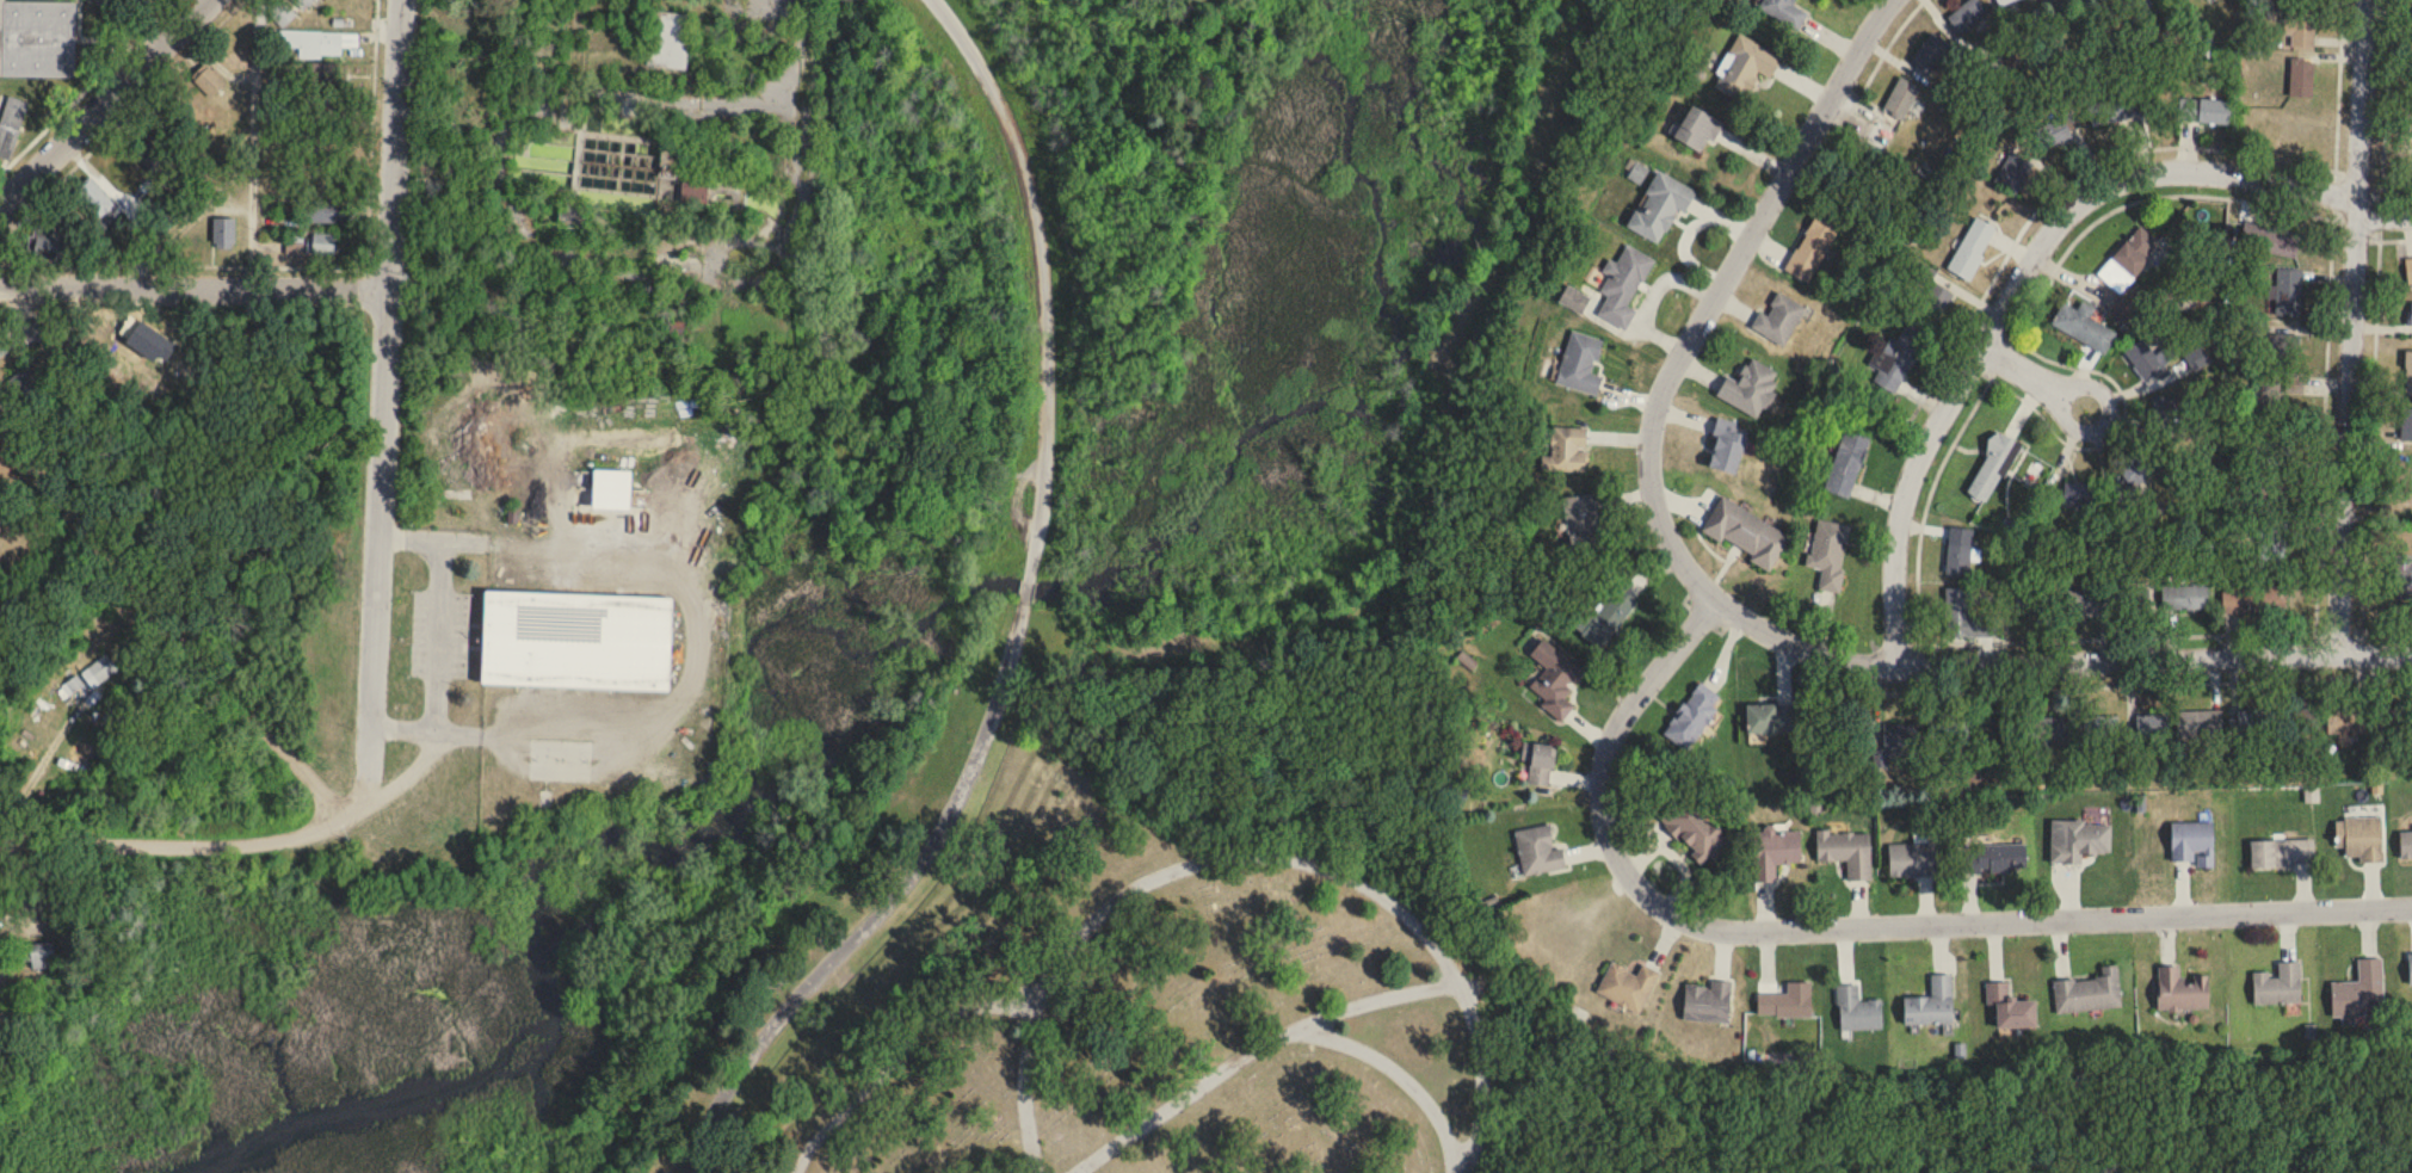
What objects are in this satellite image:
building: (2003, 1)
building: (302, 4)
building: (1783, 11)
building: (282, 14)
building: (1969, 16)
building: (2300, 29)
building: (37, 39)
building: (668, 39)
building: (311, 45)
road: (808, 48)
building: (1929, 53)
road: (1877, 58)
building: (1744, 68)
building: (1999, 70)
building: (2302, 79)
building: (208, 81)
road: (2338, 84)
building: (1901, 98)
road: (109, 106)
building: (2115, 111)
building: (2204, 112)
building: (10, 128)
building: (1697, 130)
building: (1880, 136)
building: (2054, 137)
road: (259, 146)
building: (146, 154)
building: (2013, 173)
building: (631, 177)
road: (2066, 179)
building: (94, 200)
building: (1660, 206)
building: (323, 214)
road: (2380, 215)
building: (69, 224)
building: (223, 234)
building: (45, 243)
road: (530, 243)
building: (2276, 243)
building: (321, 245)
building: (295, 248)
building: (1812, 248)
building: (1972, 248)
building: (2129, 261)
road: (2025, 266)
building: (2408, 272)
road: (1047, 276)
building: (1623, 286)
road: (197, 291)
building: (2288, 294)
building: (2410, 316)
building: (1778, 320)
road: (2350, 326)
building: (2083, 328)
building: (2, 350)
building: (2285, 351)
building: (1899, 359)
building: (2145, 360)
building: (1580, 364)
road: (2032, 375)
building: (2408, 375)
building: (24, 382)
building: (1750, 389)
road: (389, 412)
river: (1271, 418)
building: (2406, 426)
building: (2280, 443)
building: (1726, 447)
building: (1567, 449)
building: (1846, 459)
building: (661, 465)
building: (1991, 469)
building: (2139, 470)
road: (1931, 482)
building: (2276, 488)
building: (2080, 494)
road: (2319, 495)
building: (1583, 526)
building: (1745, 533)
building: (2271, 545)
building: (1830, 552)
building: (1960, 552)
building: (2402, 578)
road: (1026, 588)
building: (2185, 597)
building: (2133, 600)
building: (2253, 600)
building: (2087, 601)
building: (2034, 603)
road: (1728, 605)
building: (1964, 616)
building: (1605, 618)
road: (178, 623)
road: (2387, 628)
road: (439, 636)
building: (575, 640)
road: (697, 642)
building: (103, 668)
building: (1554, 679)
road: (2167, 681)
building: (2394, 715)
building: (1692, 716)
building: (2339, 716)
building: (2297, 717)
building: (1771, 718)
building: (2251, 720)
building: (2196, 722)
building: (2149, 723)
building: (2098, 724)
building: (2044, 727)
building: (1949, 729)
building: (1899, 731)
building: (1538, 763)
road: (413, 772)
building: (1695, 832)
building: (2358, 835)
building: (2190, 839)
building: (2078, 840)
building: (2404, 840)
building: (2278, 850)
building: (1538, 851)
road: (181, 852)
building: (1846, 852)
building: (1773, 853)
building: (1994, 858)
building: (1912, 860)
river: (538, 894)
road: (889, 907)
road: (1851, 926)
building: (38, 956)
building: (2408, 965)
road: (1053, 971)
building: (2278, 986)
building: (1628, 987)
building: (2180, 992)
building: (2357, 992)
building: (2089, 993)
road: (1388, 996)
building: (1708, 1002)
building: (1787, 1004)
building: (1931, 1005)
building: (2011, 1007)
building: (1857, 1011)
park: (1197, 1014)
road: (901, 1058)
road: (1480, 1066)
road: (1399, 1075)

